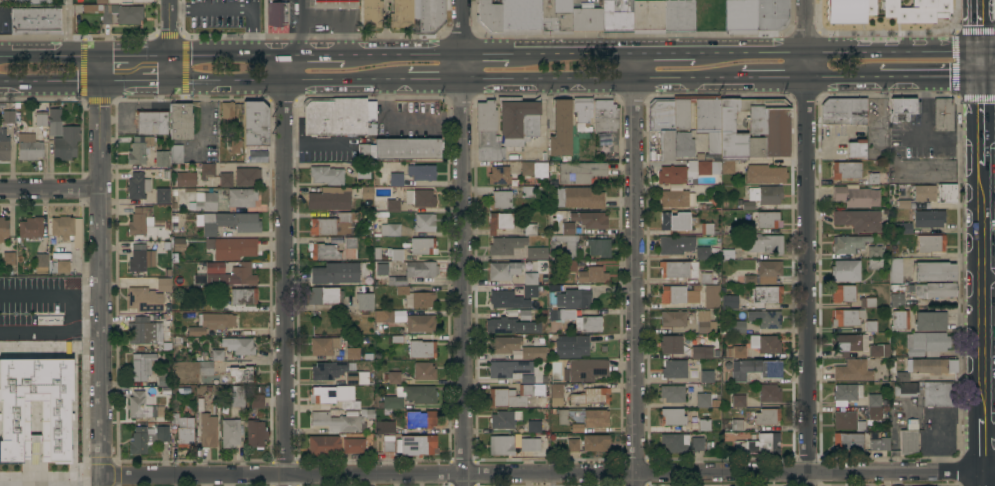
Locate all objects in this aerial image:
building: (40, 2)
building: (101, 2)
road: (300, 3)
building: (335, 4)
road: (344, 4)
building: (871, 7)
road: (234, 8)
building: (917, 10)
parking lot: (226, 12)
building: (845, 12)
building: (115, 13)
building: (277, 13)
building: (371, 13)
road: (344, 15)
building: (417, 16)
building: (648, 16)
building: (755, 16)
building: (535, 17)
building: (4, 20)
building: (35, 20)
road: (338, 21)
road: (805, 25)
road: (978, 25)
road: (67, 27)
road: (298, 29)
road: (172, 40)
road: (986, 49)
road: (891, 50)
traffic signals: (978, 50)
road: (663, 51)
road: (749, 51)
road: (548, 52)
road: (228, 53)
road: (374, 53)
road: (34, 54)
road: (84, 54)
traffic signals: (101, 54)
road: (136, 54)
traffic signals: (172, 54)
road: (978, 63)
road: (805, 64)
road: (286, 67)
road: (100, 68)
road: (986, 75)
road: (928, 76)
traffic signals: (978, 76)
road: (633, 77)
road: (841, 77)
road: (432, 80)
road: (120, 81)
road: (156, 81)
traffic signals: (172, 81)
road: (287, 81)
road: (50, 82)
traffic signals: (100, 82)
building: (17, 105)
building: (2, 106)
building: (902, 109)
building: (843, 111)
building: (582, 113)
building: (681, 113)
building: (943, 114)
building: (227, 115)
building: (334, 116)
building: (604, 116)
building: (8, 117)
building: (17, 118)
road: (207, 118)
building: (41, 119)
building: (151, 122)
building: (180, 122)
building: (518, 122)
building: (255, 124)
road: (979, 124)
building: (707, 126)
building: (662, 127)
building: (560, 129)
building: (752, 131)
building: (487, 133)
road: (987, 135)
building: (62, 136)
building: (683, 145)
building: (4, 146)
building: (29, 147)
building: (235, 147)
building: (407, 149)
building: (856, 149)
building: (139, 150)
building: (363, 150)
building: (176, 154)
building: (161, 159)
building: (708, 168)
building: (534, 169)
building: (206, 171)
building: (363, 171)
building: (846, 171)
building: (421, 173)
building: (580, 173)
building: (764, 174)
building: (327, 175)
building: (499, 175)
building: (247, 176)
building: (674, 176)
building: (873, 179)
building: (185, 180)
building: (225, 180)
building: (395, 180)
building: (137, 186)
road: (50, 189)
building: (528, 192)
building: (367, 193)
building: (947, 193)
building: (924, 194)
building: (161, 195)
building: (765, 195)
building: (856, 196)
building: (242, 197)
building: (420, 198)
building: (579, 198)
building: (674, 198)
building: (500, 200)
building: (328, 201)
building: (203, 202)
building: (903, 204)
building: (746, 205)
building: (392, 206)
building: (701, 207)
building: (380, 215)
building: (174, 218)
building: (929, 219)
building: (590, 220)
building: (768, 220)
building: (859, 220)
building: (138, 221)
building: (500, 222)
building: (677, 222)
building: (228, 223)
building: (424, 223)
building: (167, 225)
building: (333, 225)
building: (62, 227)
building: (30, 228)
building: (903, 228)
building: (3, 229)
building: (567, 229)
building: (707, 229)
building: (738, 229)
building: (386, 230)
building: (530, 230)
building: (350, 243)
road: (462, 243)
building: (930, 243)
building: (177, 244)
building: (848, 244)
building: (505, 245)
building: (675, 245)
building: (764, 245)
building: (423, 246)
building: (571, 246)
building: (599, 247)
building: (231, 248)
building: (538, 250)
building: (323, 252)
building: (875, 252)
building: (377, 253)
building: (702, 253)
building: (727, 254)
building: (397, 255)
building: (140, 258)
building: (9, 259)
building: (41, 263)
building: (877, 264)
building: (567, 266)
building: (59, 267)
road: (634, 268)
building: (769, 269)
building: (679, 270)
building: (895, 270)
building: (503, 271)
building: (846, 271)
building: (934, 271)
building: (167, 272)
building: (414, 272)
building: (230, 274)
building: (336, 274)
building: (592, 275)
building: (709, 278)
building: (530, 279)
building: (748, 279)
road: (806, 281)
building: (2, 283)
road: (101, 283)
road: (287, 283)
building: (163, 285)
building: (554, 288)
building: (935, 290)
building: (530, 291)
road: (982, 291)
road: (50, 293)
building: (843, 293)
building: (672, 294)
building: (766, 295)
building: (243, 296)
building: (322, 296)
building: (711, 296)
building: (416, 298)
building: (501, 299)
building: (573, 299)
building: (144, 300)
building: (896, 300)
building: (364, 301)
building: (729, 302)
building: (867, 303)
building: (216, 304)
building: (364, 313)
building: (524, 315)
building: (383, 316)
building: (847, 317)
building: (673, 319)
building: (765, 319)
building: (576, 320)
building: (900, 320)
building: (930, 321)
building: (211, 323)
building: (420, 323)
building: (704, 323)
building: (500, 325)
building: (870, 326)
building: (738, 327)
building: (144, 332)
building: (397, 339)
building: (849, 343)
building: (503, 344)
building: (765, 344)
building: (925, 344)
building: (671, 345)
building: (240, 346)
building: (323, 346)
building: (571, 346)
building: (421, 349)
building: (878, 351)
building: (736, 352)
building: (534, 353)
building: (701, 353)
building: (352, 354)
building: (214, 355)
building: (141, 366)
building: (932, 366)
building: (206, 368)
building: (673, 369)
building: (755, 369)
building: (502, 370)
building: (587, 370)
building: (424, 371)
building: (853, 371)
building: (337, 373)
building: (241, 375)
building: (394, 376)
building: (707, 377)
building: (902, 377)
building: (529, 379)
building: (164, 383)
building: (907, 389)
building: (184, 391)
building: (769, 393)
building: (556, 394)
building: (672, 394)
building: (846, 394)
building: (938, 394)
building: (334, 396)
building: (410, 396)
building: (514, 396)
building: (237, 397)
building: (589, 397)
building: (703, 400)
building: (738, 401)
building: (257, 402)
building: (139, 405)
building: (200, 405)
building: (874, 407)
building: (562, 417)
building: (672, 417)
building: (766, 417)
building: (595, 418)
building: (504, 419)
building: (341, 420)
building: (420, 420)
building: (847, 421)
building: (704, 425)
building: (737, 425)
building: (369, 427)
building: (533, 427)
building: (388, 428)
building: (577, 428)
building: (207, 429)
building: (183, 430)
building: (57, 431)
building: (230, 433)
building: (256, 434)
building: (146, 438)
building: (909, 439)
road: (984, 439)
building: (674, 442)
building: (848, 442)
building: (595, 443)
building: (697, 444)
building: (759, 444)
building: (323, 445)
building: (501, 445)
building: (529, 445)
building: (572, 445)
building: (879, 445)
building: (353, 446)
building: (418, 446)
building: (388, 447)
road: (548, 472)
road: (984, 477)
road: (51, 485)
building: (898, 485)

